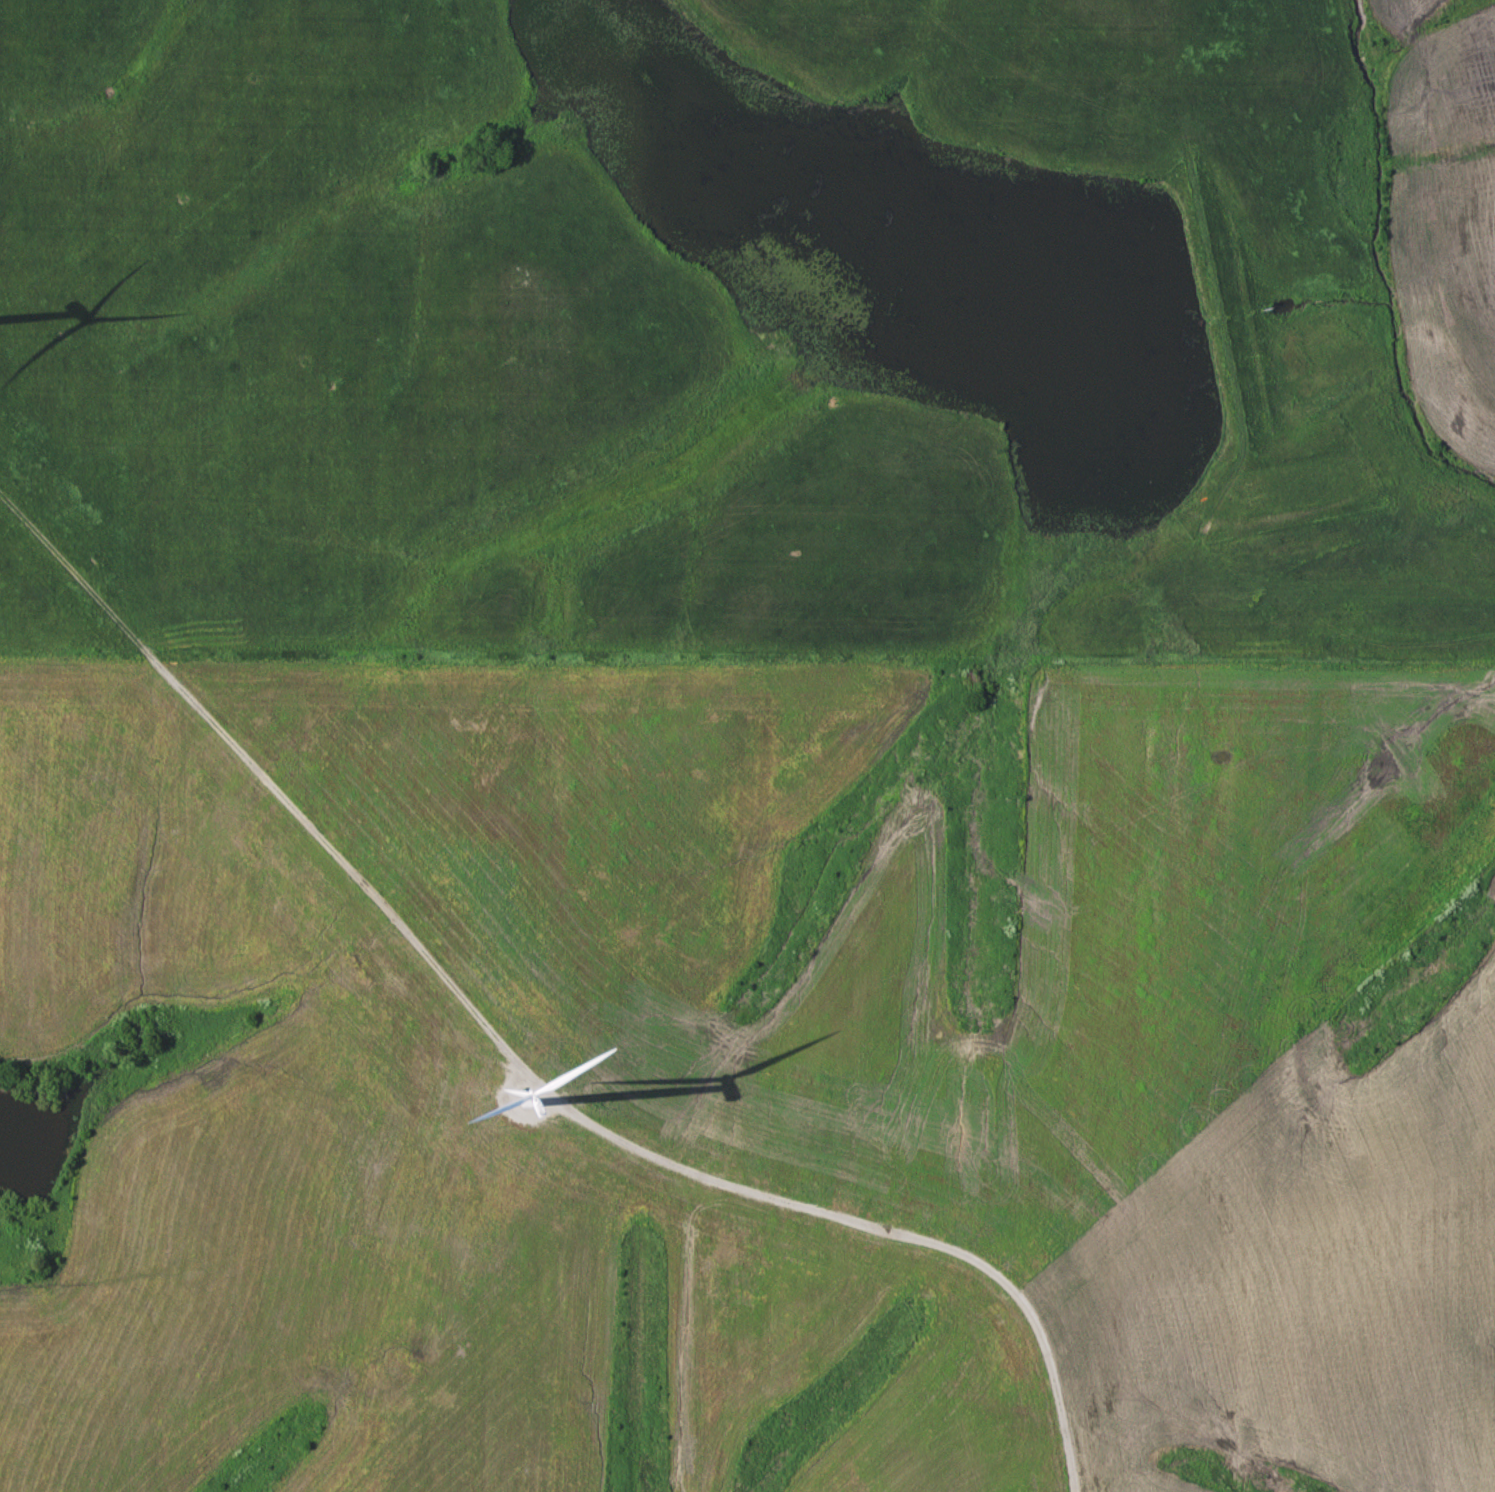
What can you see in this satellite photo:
road: (517, 1065)
wind turbine: (521, 1101)

